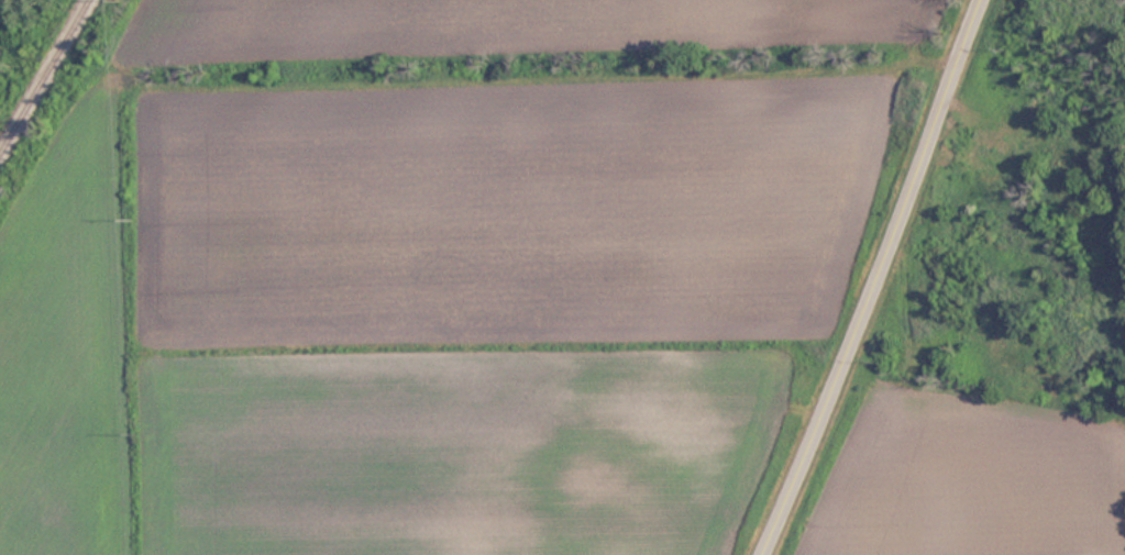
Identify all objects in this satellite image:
railway: (43, 75)
road: (883, 280)

